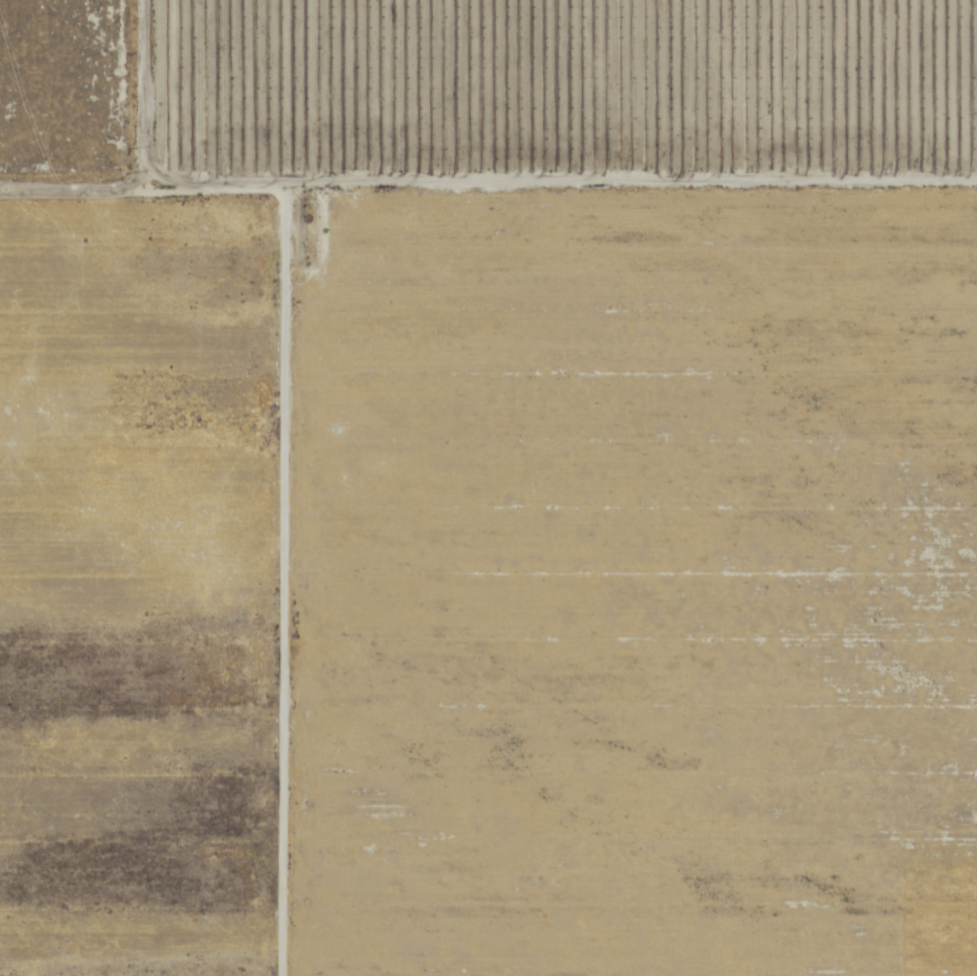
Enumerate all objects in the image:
road: (132, 96)
road: (66, 193)
road: (205, 193)
road: (278, 587)
crop: (136, 588)

